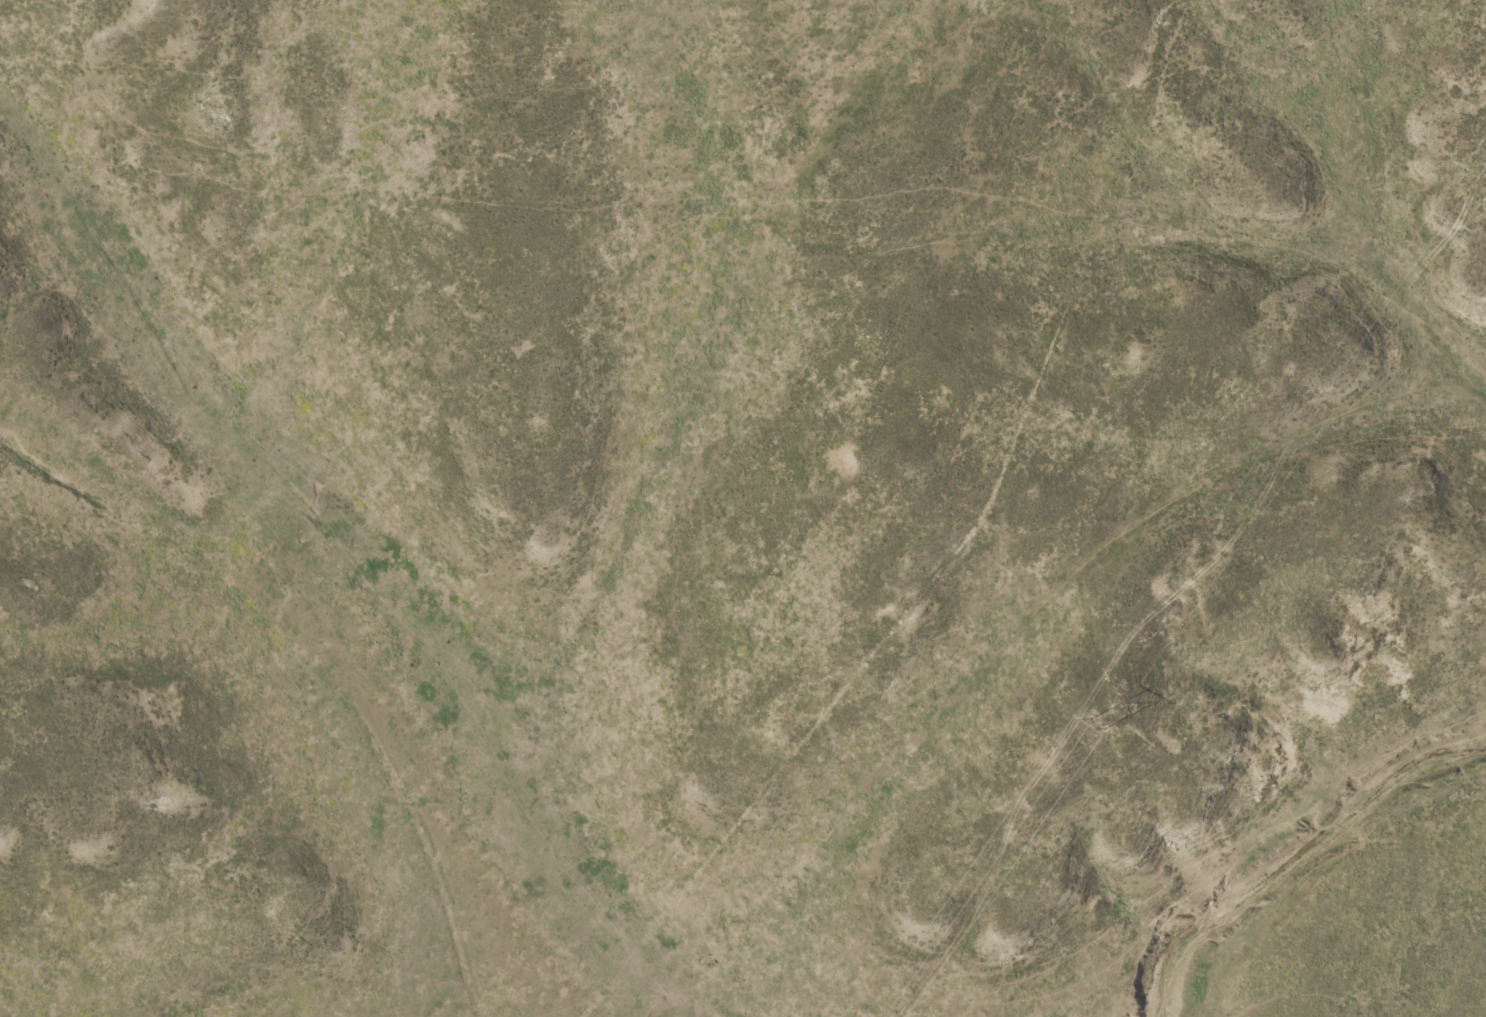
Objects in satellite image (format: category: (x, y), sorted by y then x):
power tower: (1093, 731)

